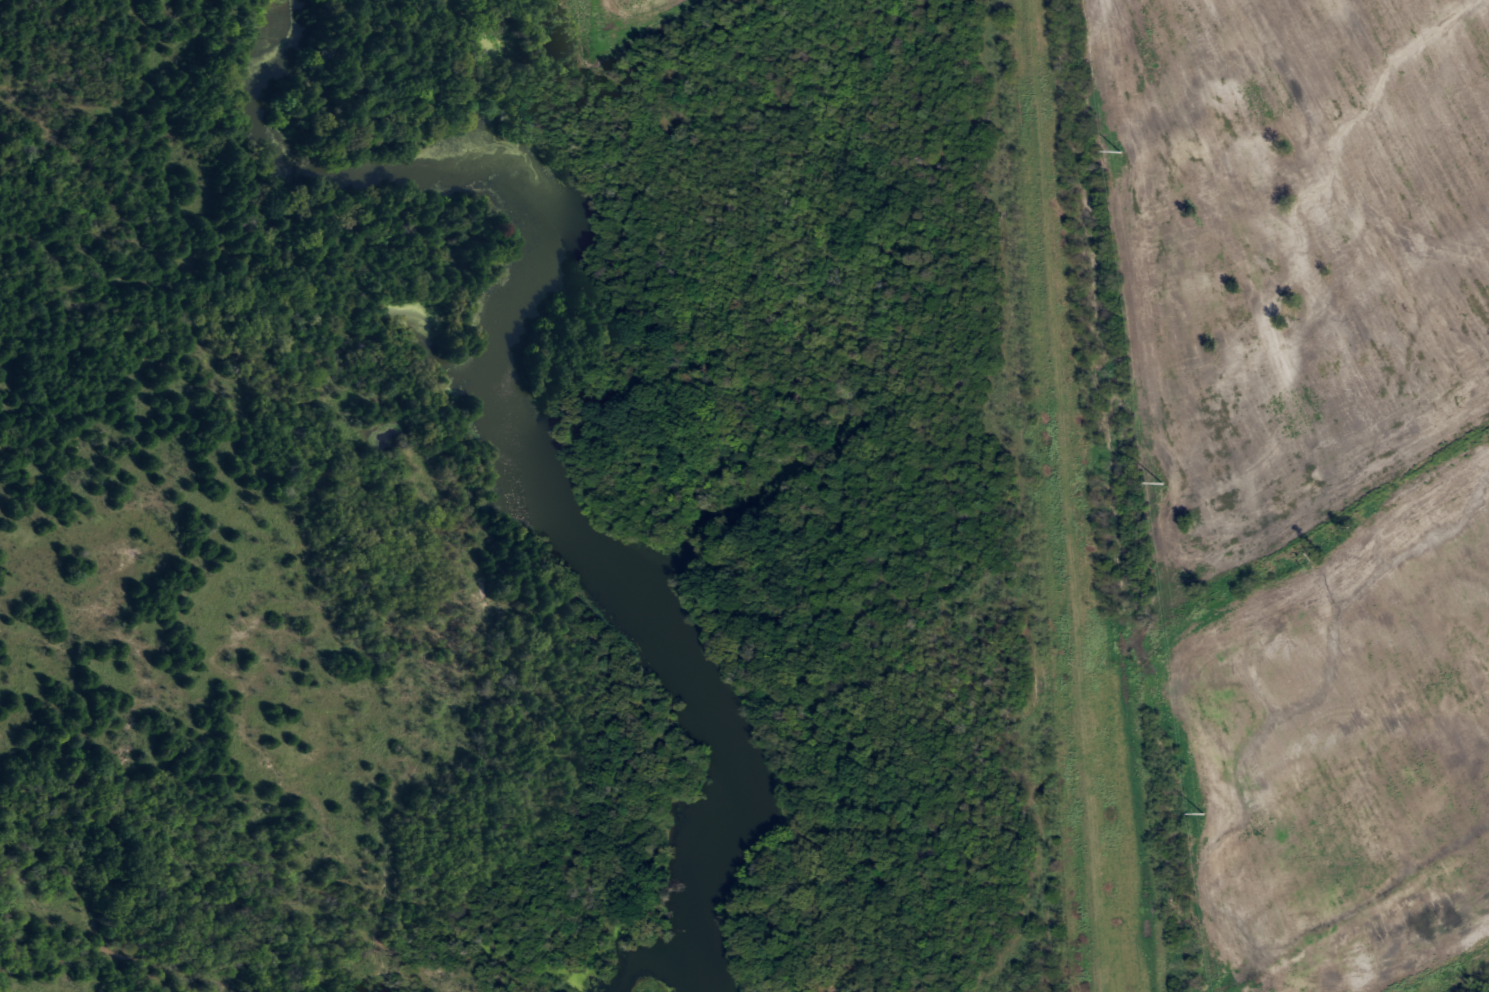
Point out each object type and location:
power tower: (1120, 151)
power tower: (1161, 483)
power tower: (1202, 812)

